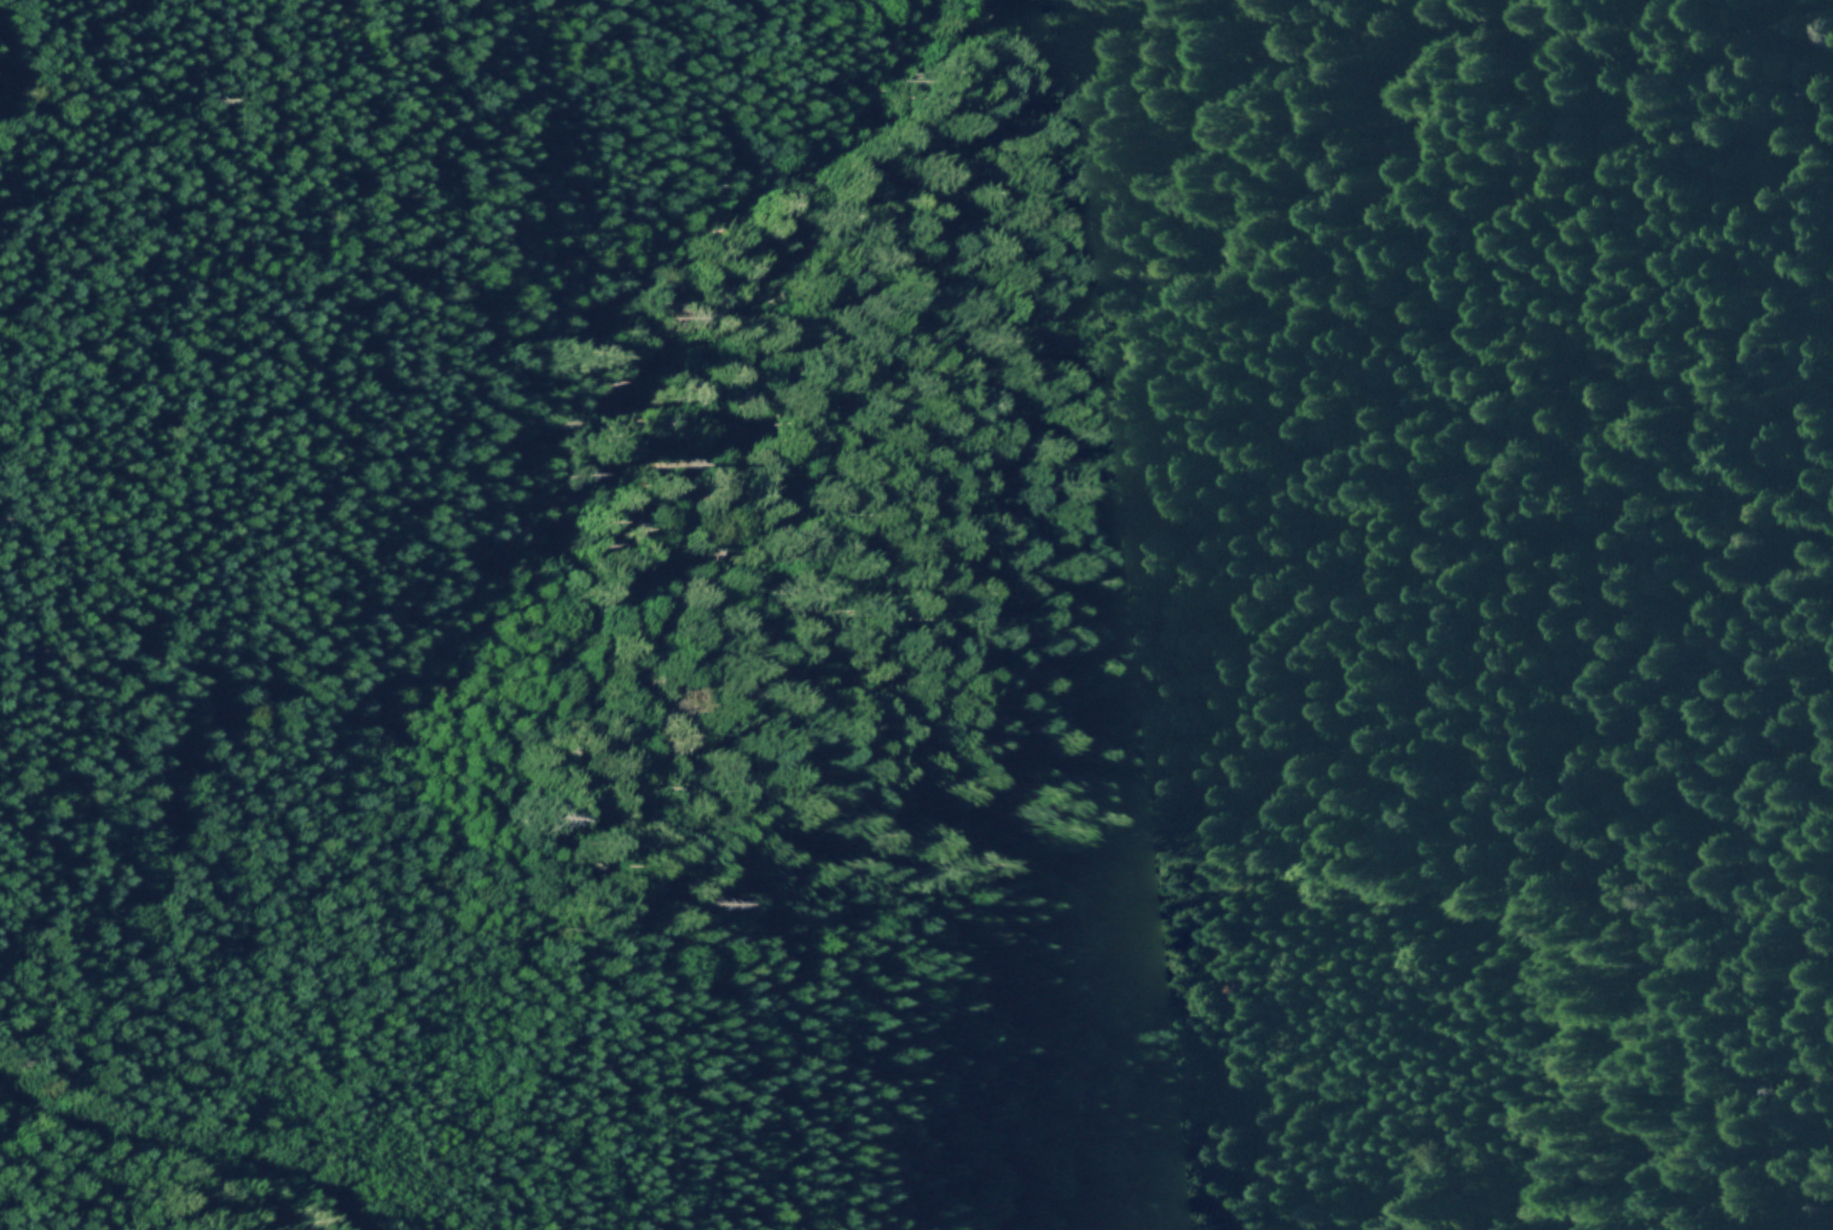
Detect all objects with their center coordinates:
road: (185, 1142)

